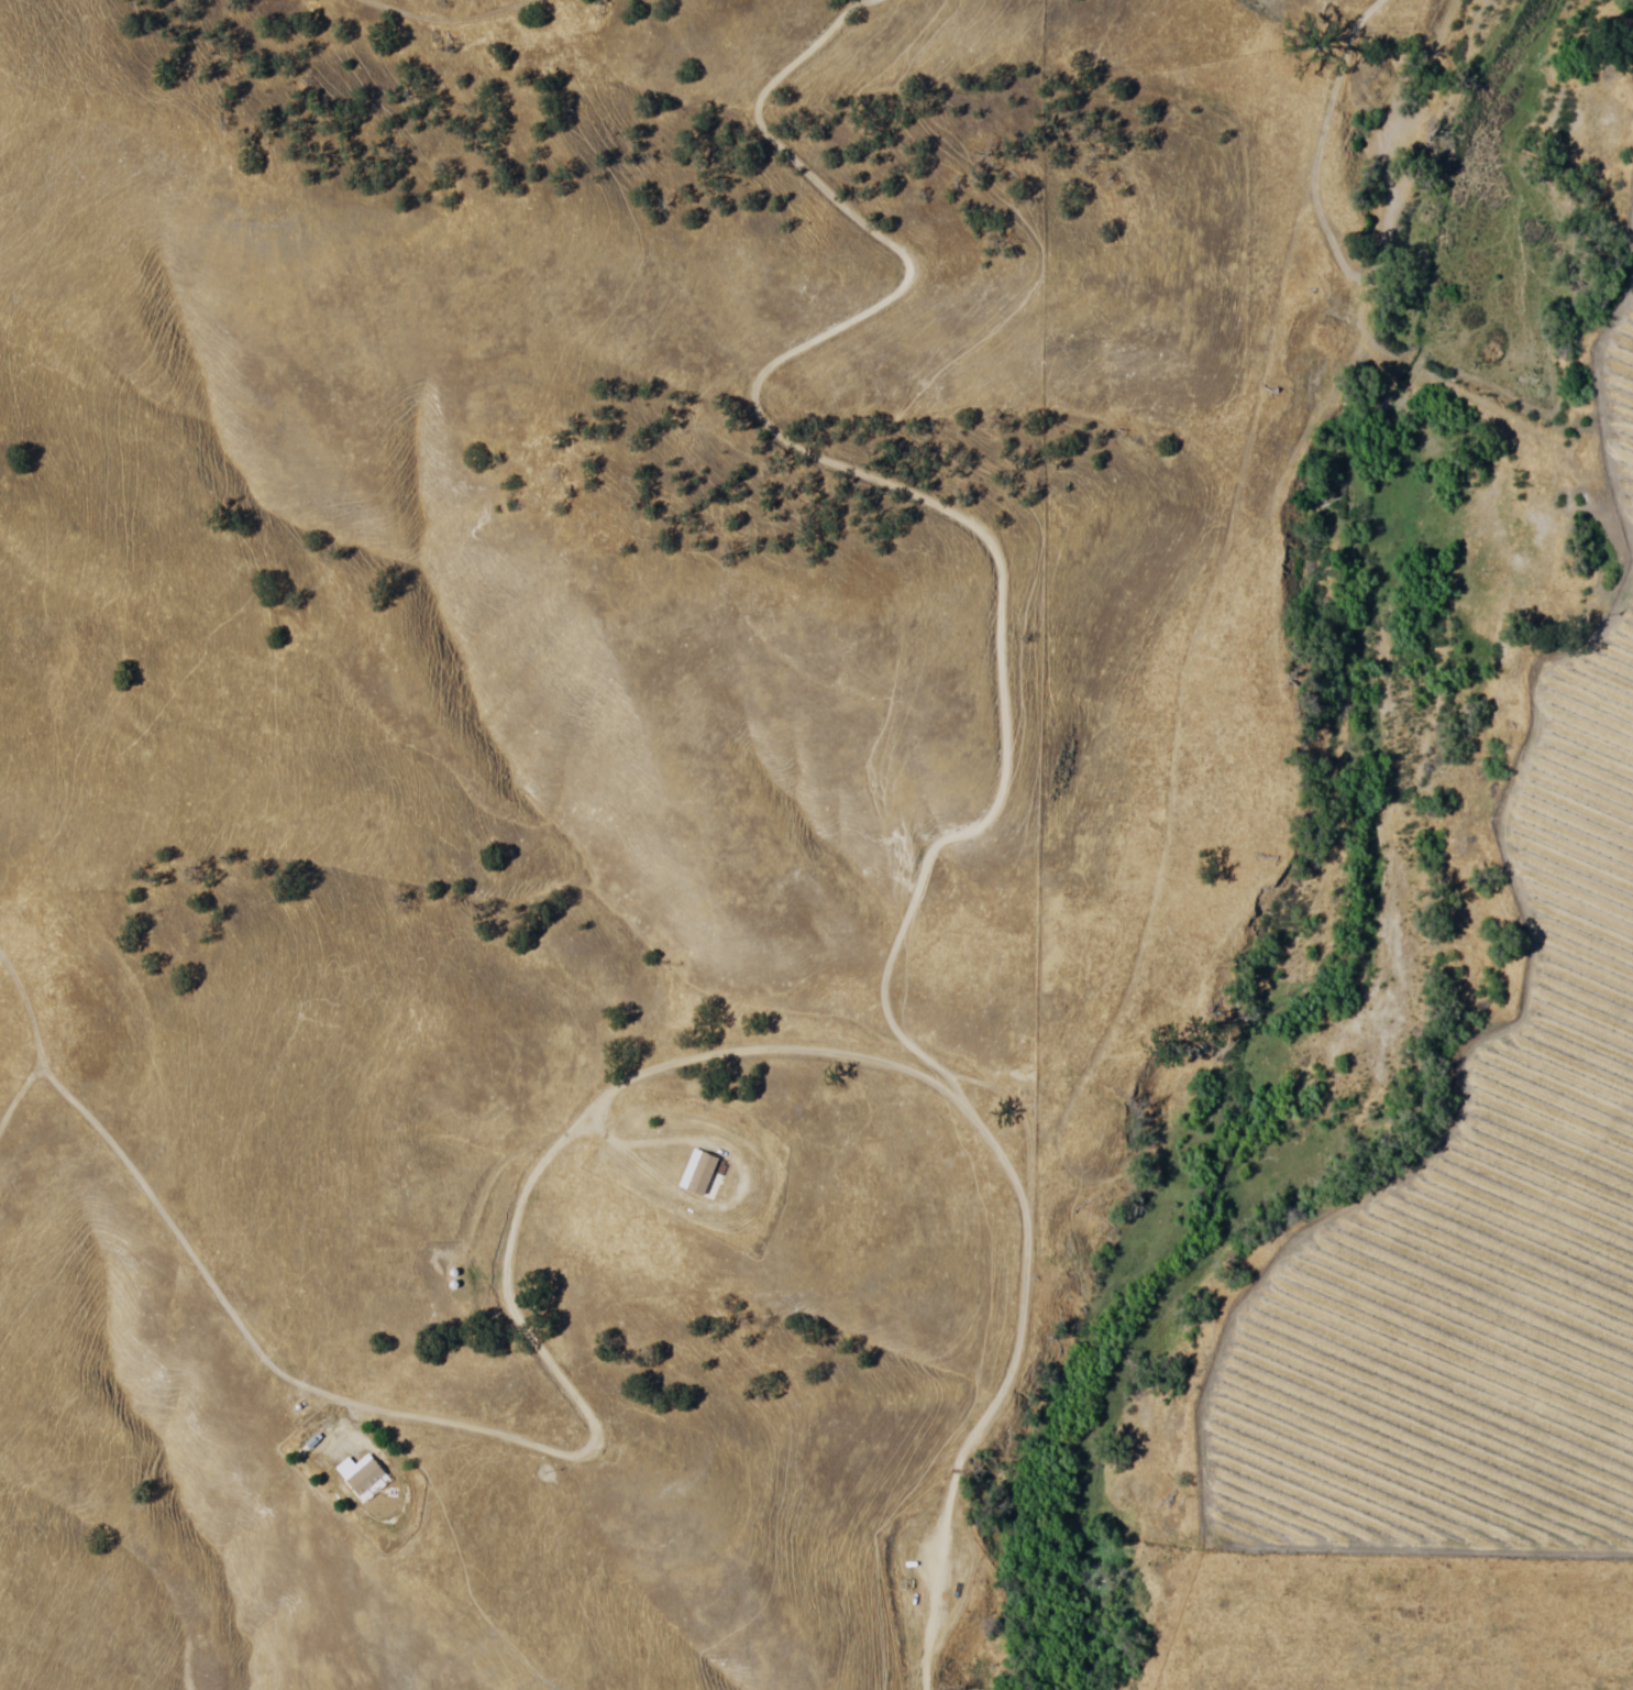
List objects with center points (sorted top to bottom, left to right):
road: (914, 492)
crop: (1482, 1116)
building: (699, 1175)
building: (363, 1478)

